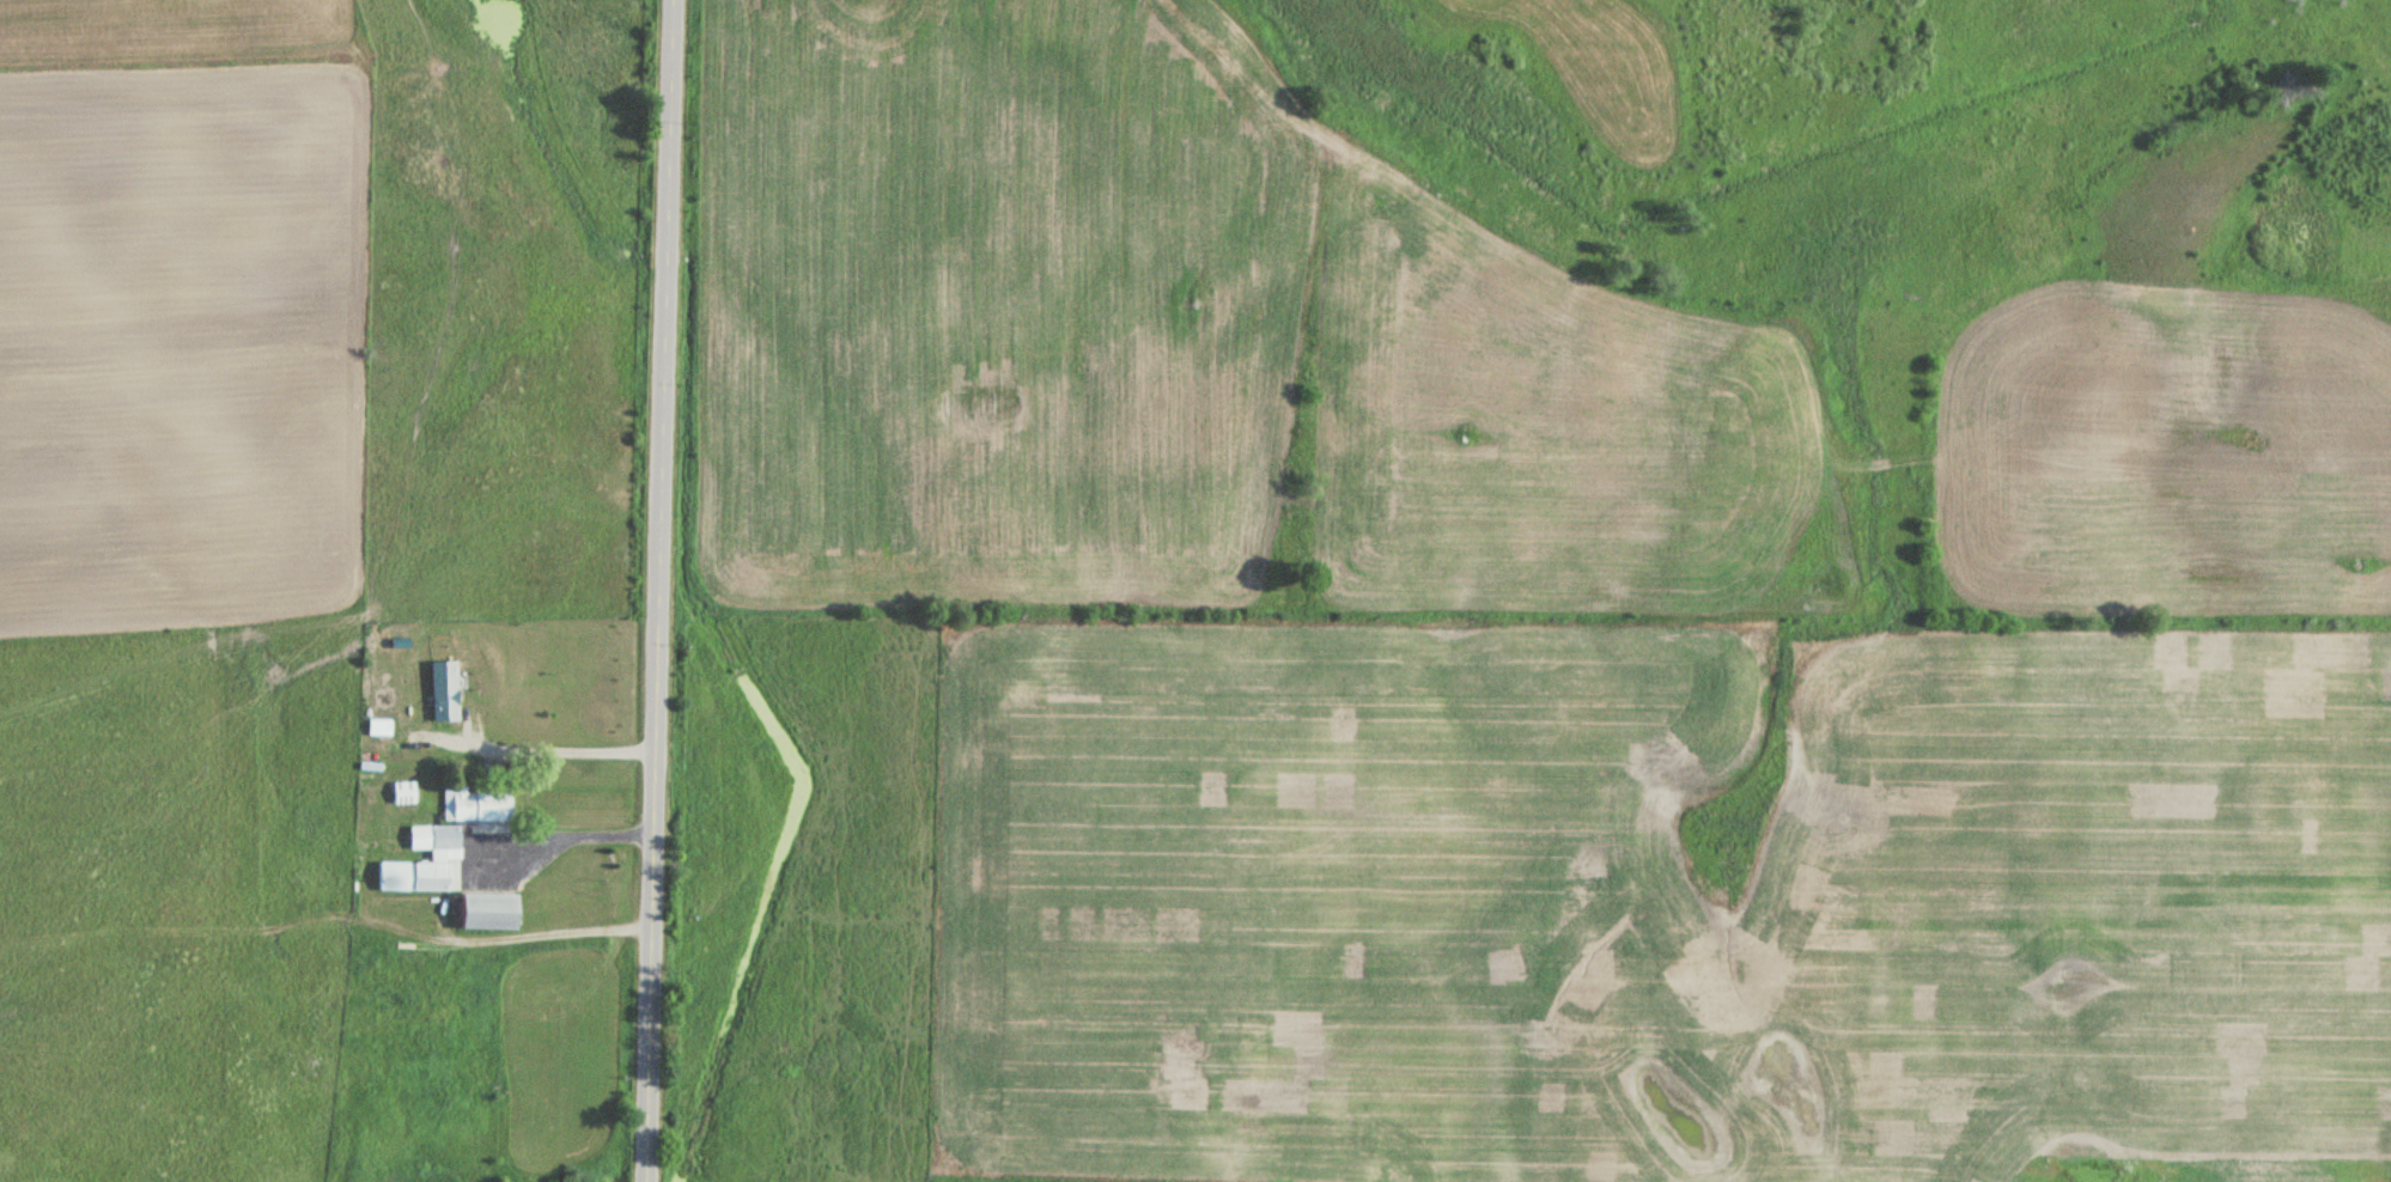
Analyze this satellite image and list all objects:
road: (661, 590)
building: (443, 691)
building: (402, 792)
building: (474, 806)
building: (444, 855)
building: (483, 912)

